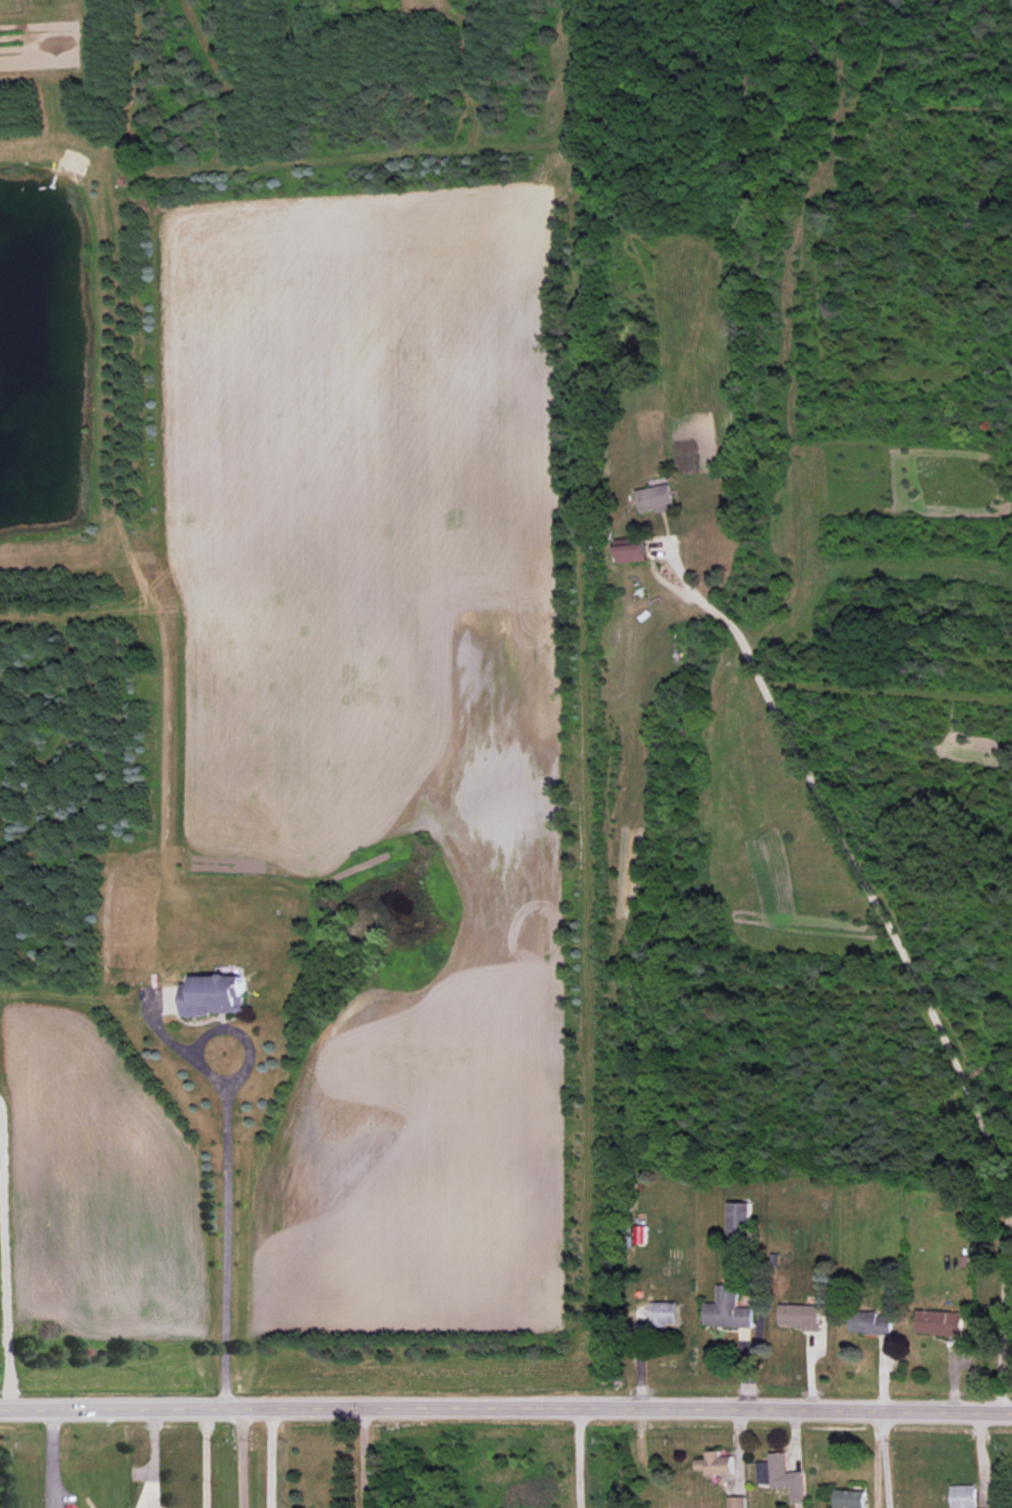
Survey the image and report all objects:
building: (657, 498)
building: (632, 552)
road: (908, 963)
building: (215, 995)
building: (739, 1219)
road: (225, 1231)
building: (727, 1309)
building: (665, 1314)
building: (800, 1316)
building: (869, 1322)
building: (940, 1322)
road: (506, 1405)
road: (49, 1457)
road: (205, 1457)
road: (238, 1457)
road: (267, 1457)
road: (363, 1457)
road: (149, 1458)
road: (874, 1458)
road: (883, 1458)
building: (715, 1463)
building: (780, 1478)
building: (963, 1496)
building: (850, 1498)
building: (737, 1502)

